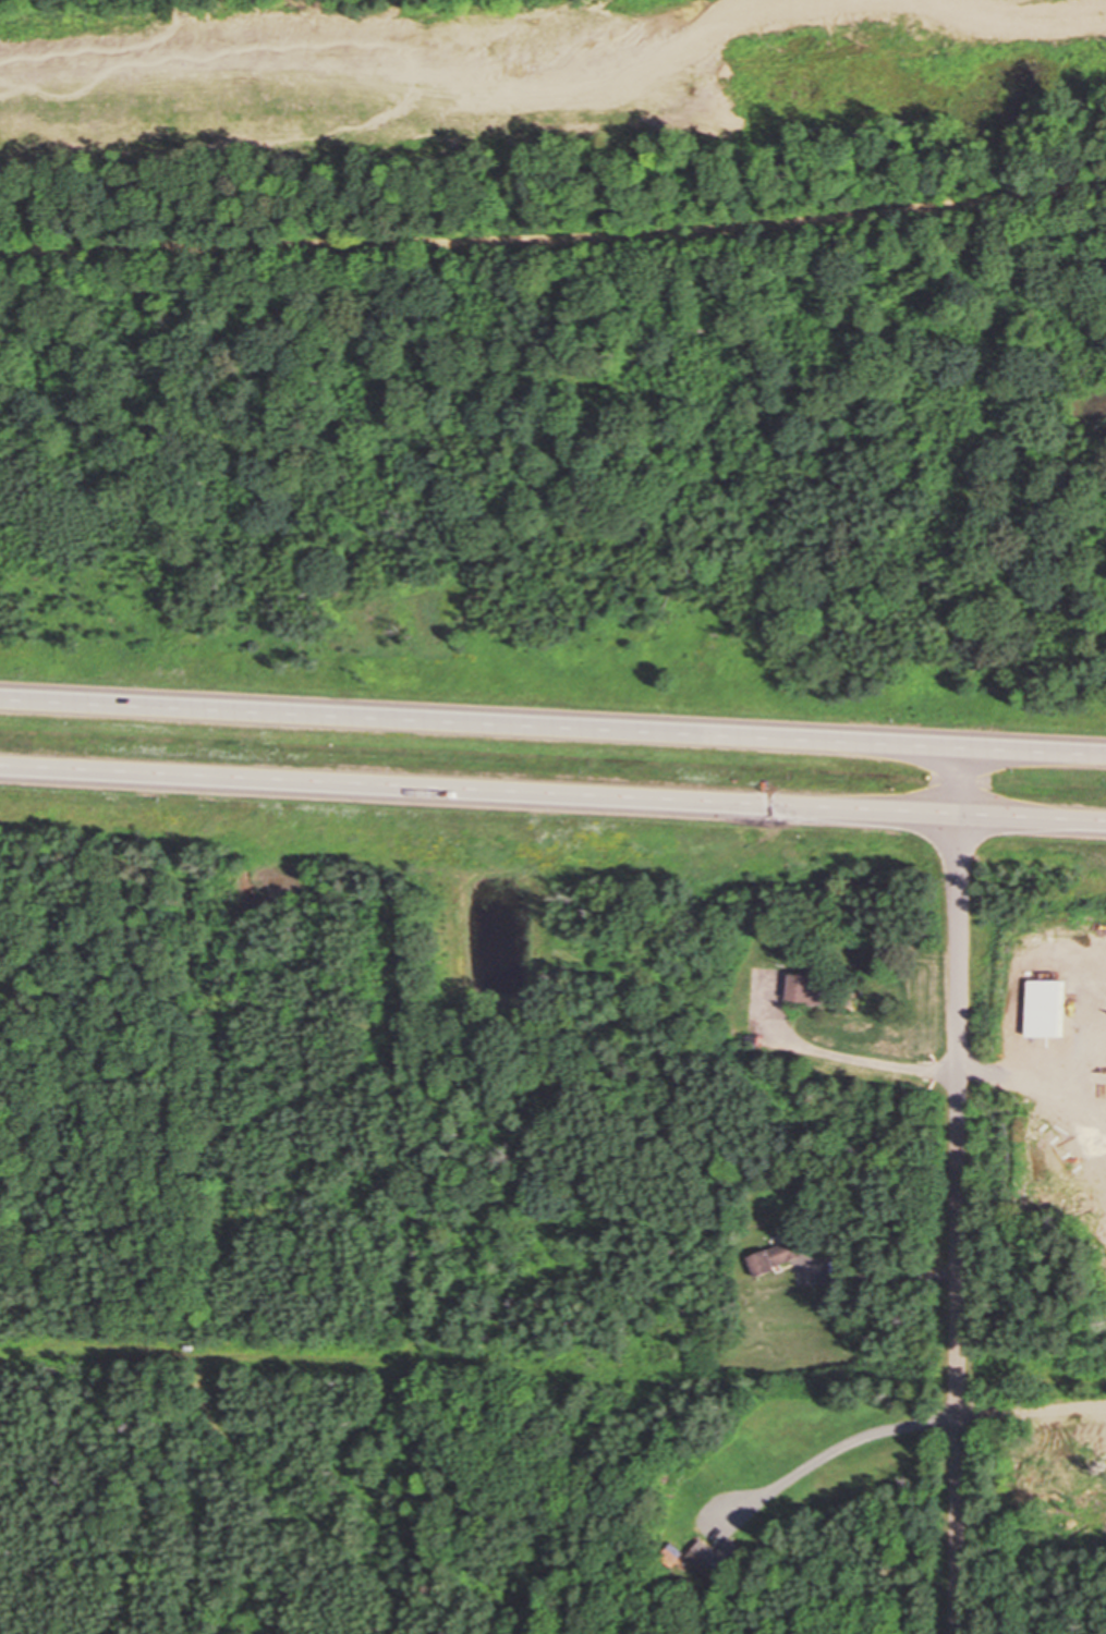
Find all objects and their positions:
road: (78, 37)
landfill: (523, 88)
road: (402, 89)
road: (554, 233)
road: (552, 727)
road: (552, 793)
building: (824, 988)
building: (1033, 1024)
road: (961, 1191)
building: (783, 1257)
building: (720, 1560)

